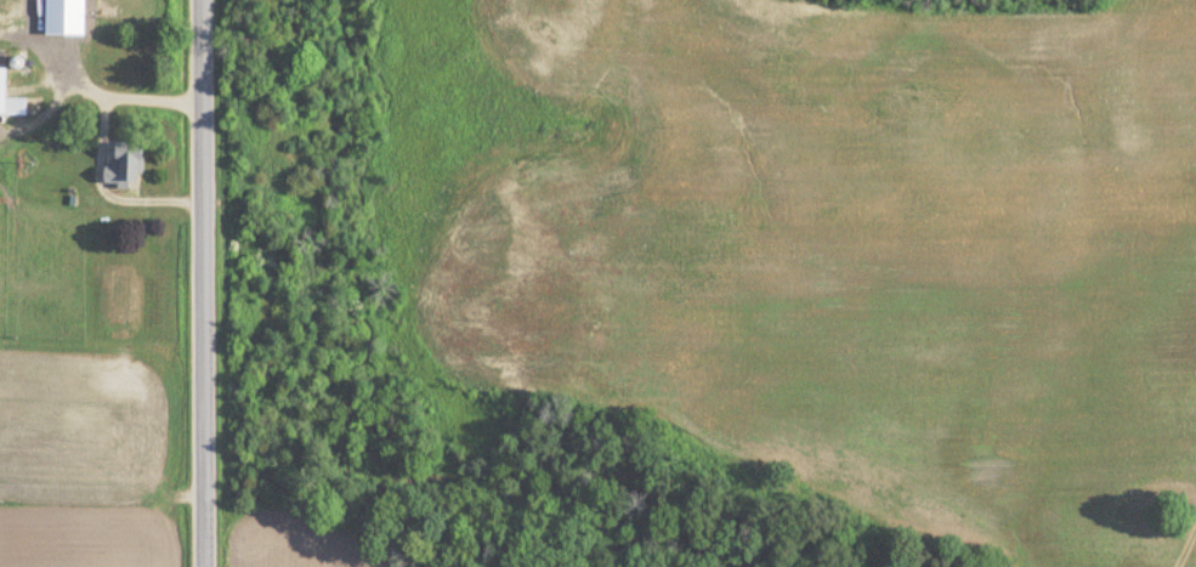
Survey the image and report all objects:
building: (63, 17)
building: (7, 104)
building: (123, 170)
road: (203, 283)

